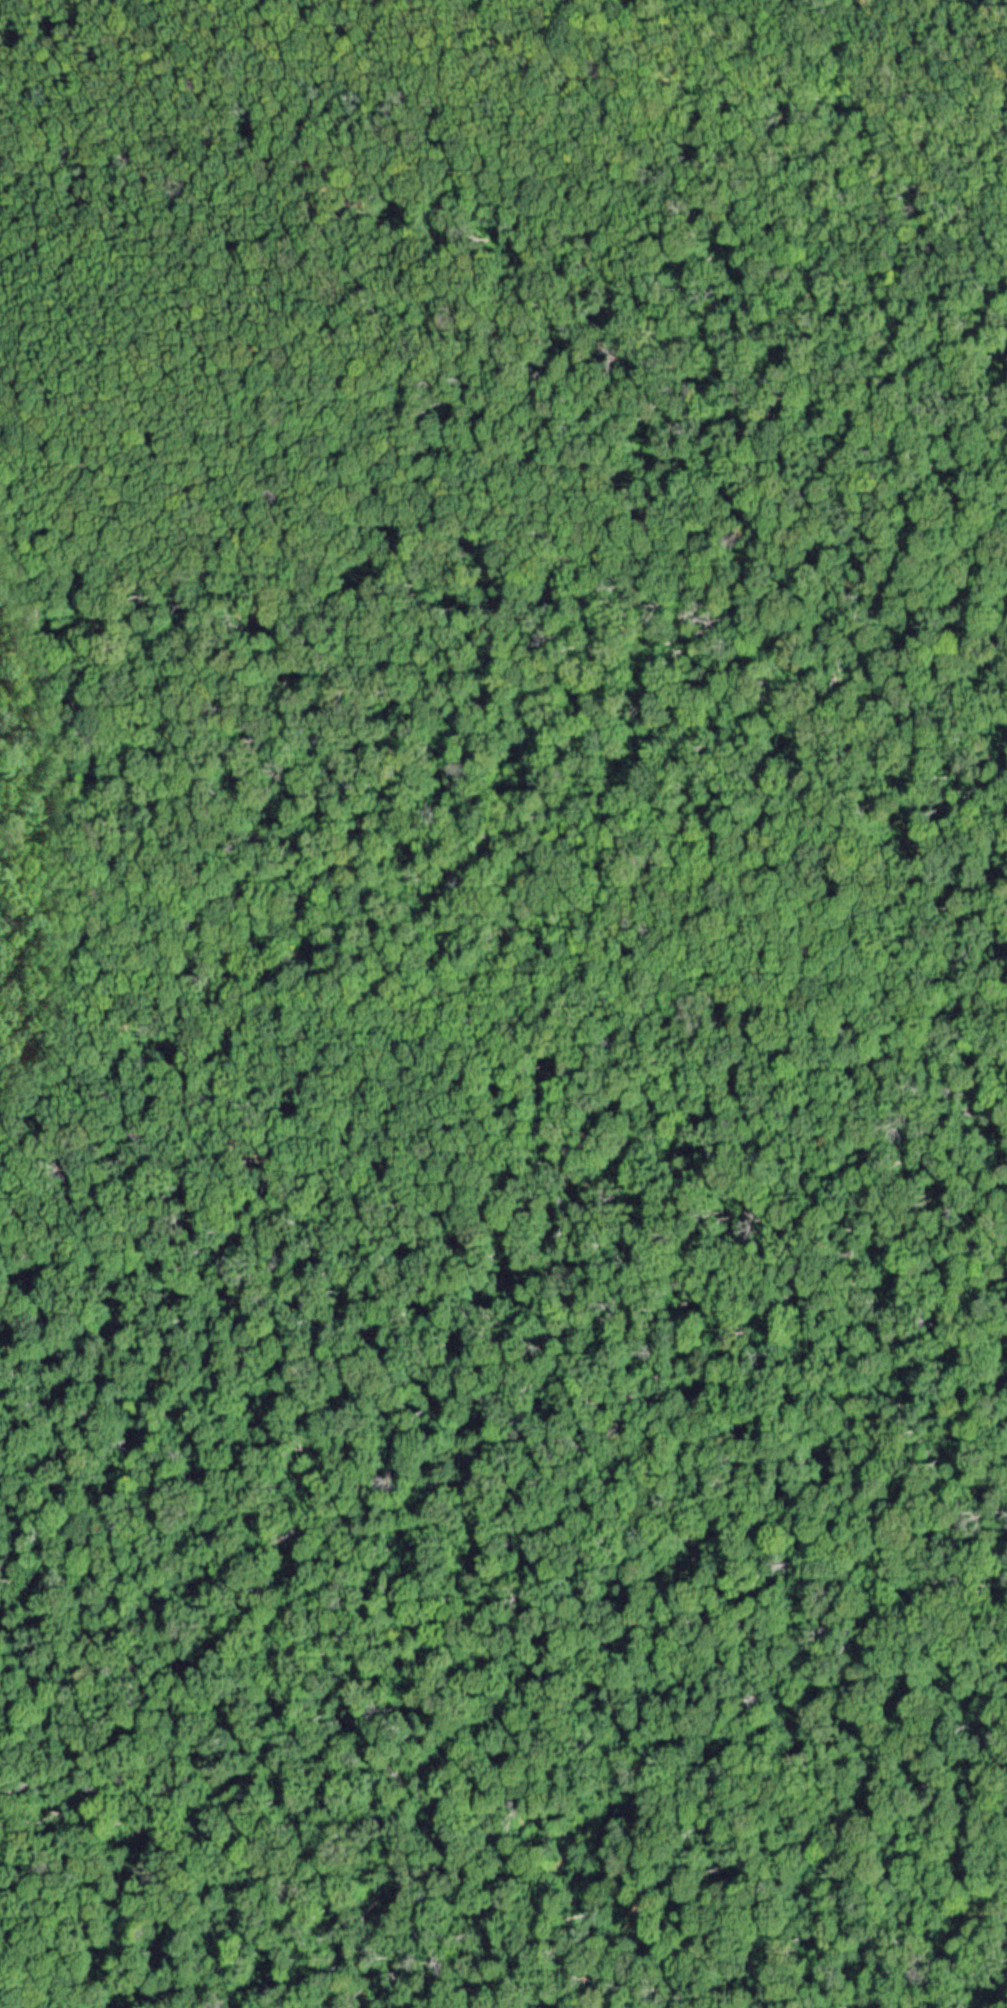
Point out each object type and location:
road: (468, 1331)

